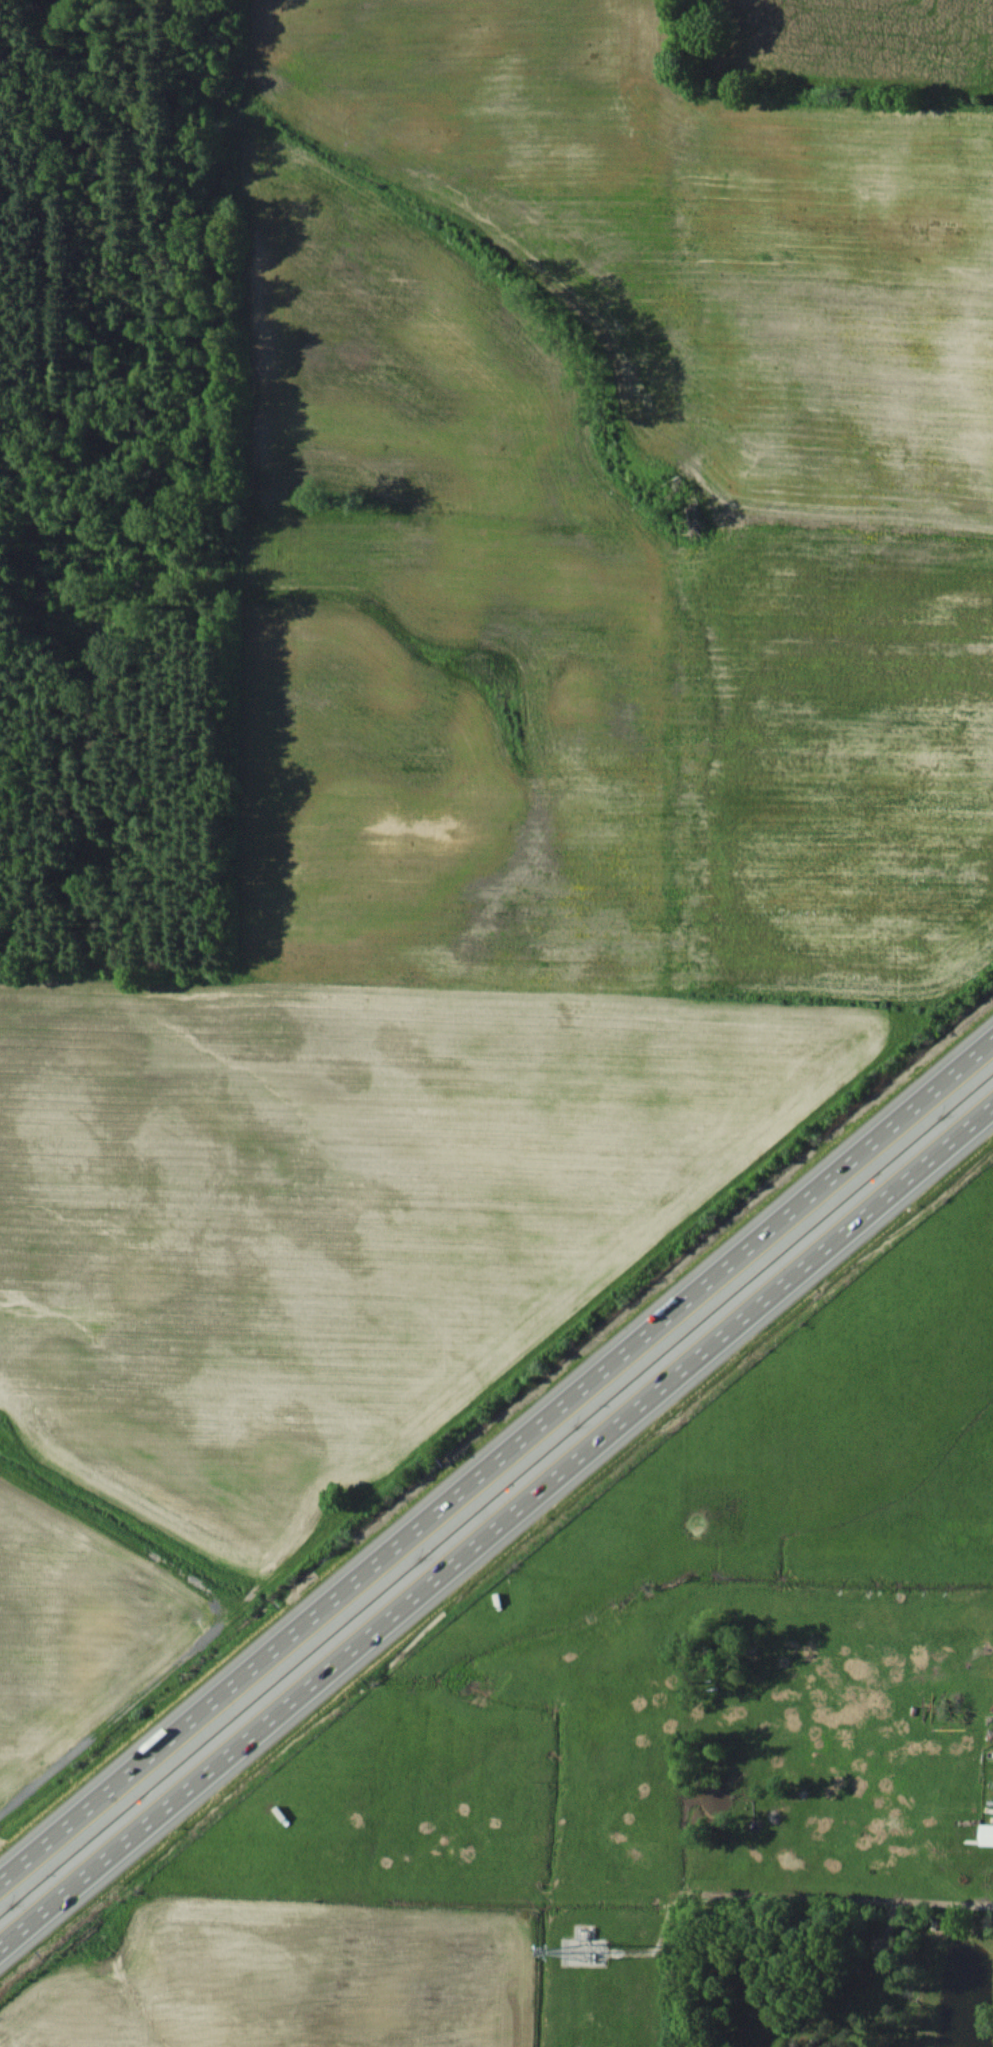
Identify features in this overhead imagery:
road: (496, 1459)
road: (496, 1525)
building: (986, 1834)

